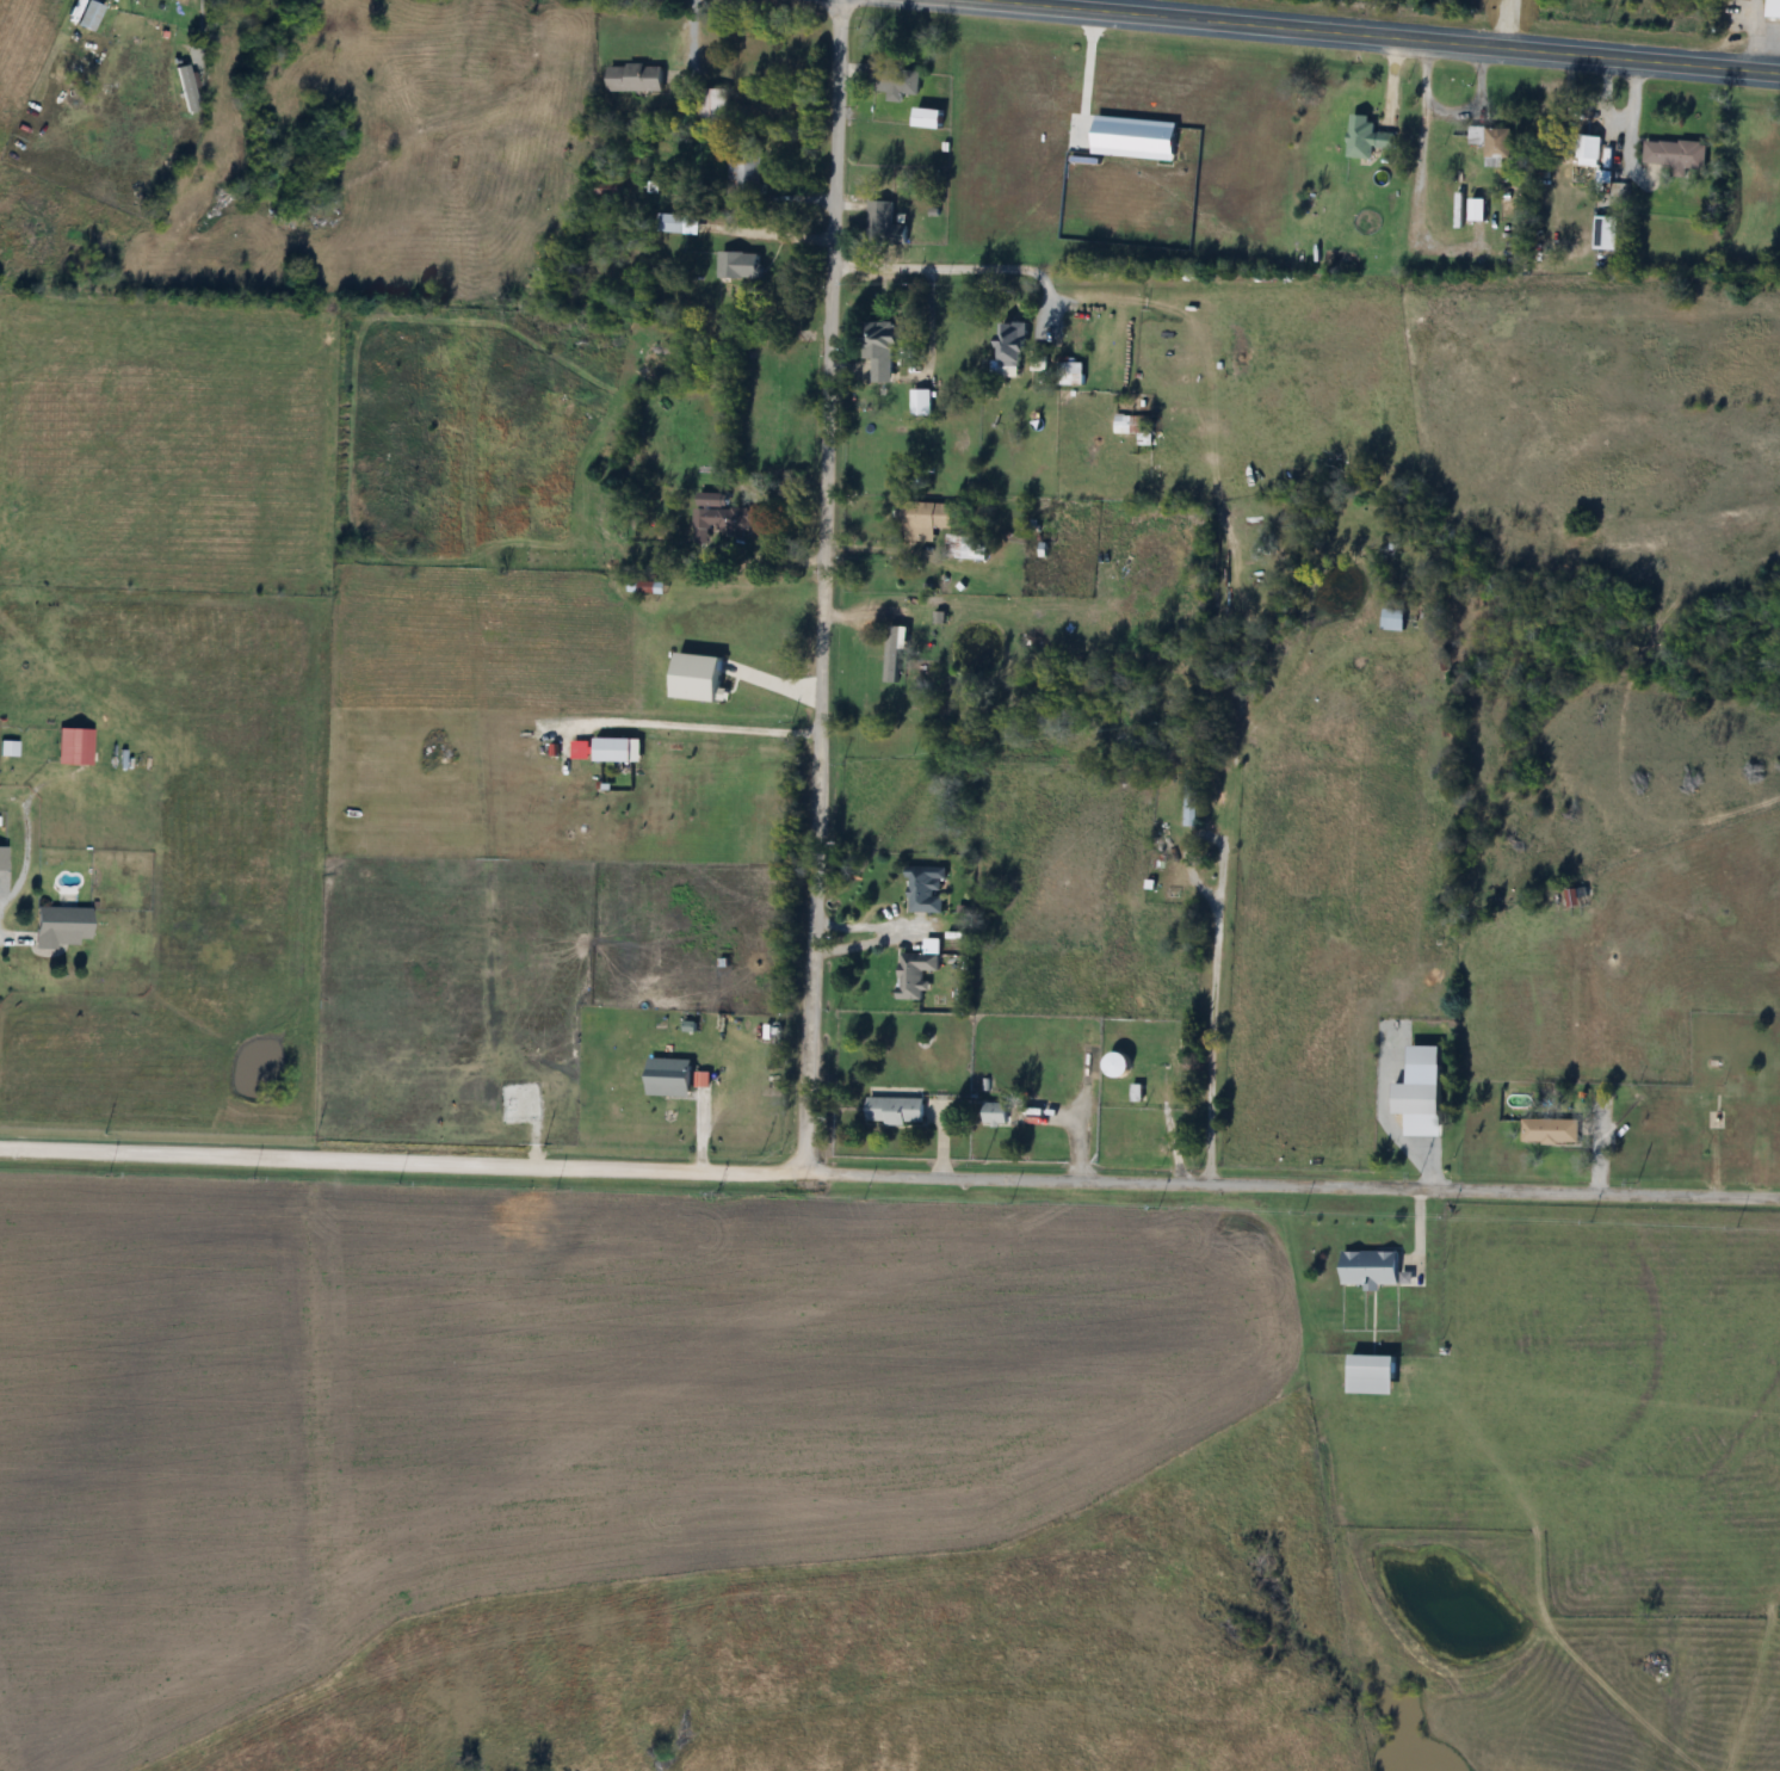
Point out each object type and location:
building: (1772, 8)
building: (86, 17)
road: (1395, 35)
building: (632, 78)
building: (894, 85)
building: (711, 109)
building: (923, 118)
building: (1364, 137)
building: (1495, 147)
building: (1671, 154)
building: (1586, 158)
building: (742, 174)
building: (669, 224)
building: (882, 226)
building: (1602, 233)
road: (954, 265)
building: (737, 266)
building: (1006, 344)
building: (877, 350)
building: (919, 403)
building: (1121, 425)
building: (920, 520)
building: (724, 522)
building: (963, 547)
road: (827, 585)
building: (645, 591)
building: (933, 617)
building: (1390, 619)
building: (895, 631)
road: (710, 724)
building: (70, 747)
building: (614, 749)
building: (1, 858)
building: (921, 889)
building: (1566, 899)
building: (58, 926)
road: (7, 934)
road: (1220, 963)
building: (911, 974)
building: (1113, 1065)
building: (666, 1078)
building: (1416, 1100)
building: (892, 1110)
building: (993, 1115)
building: (1547, 1131)
road: (44, 1150)
road: (933, 1175)
building: (1367, 1267)
building: (1367, 1376)

